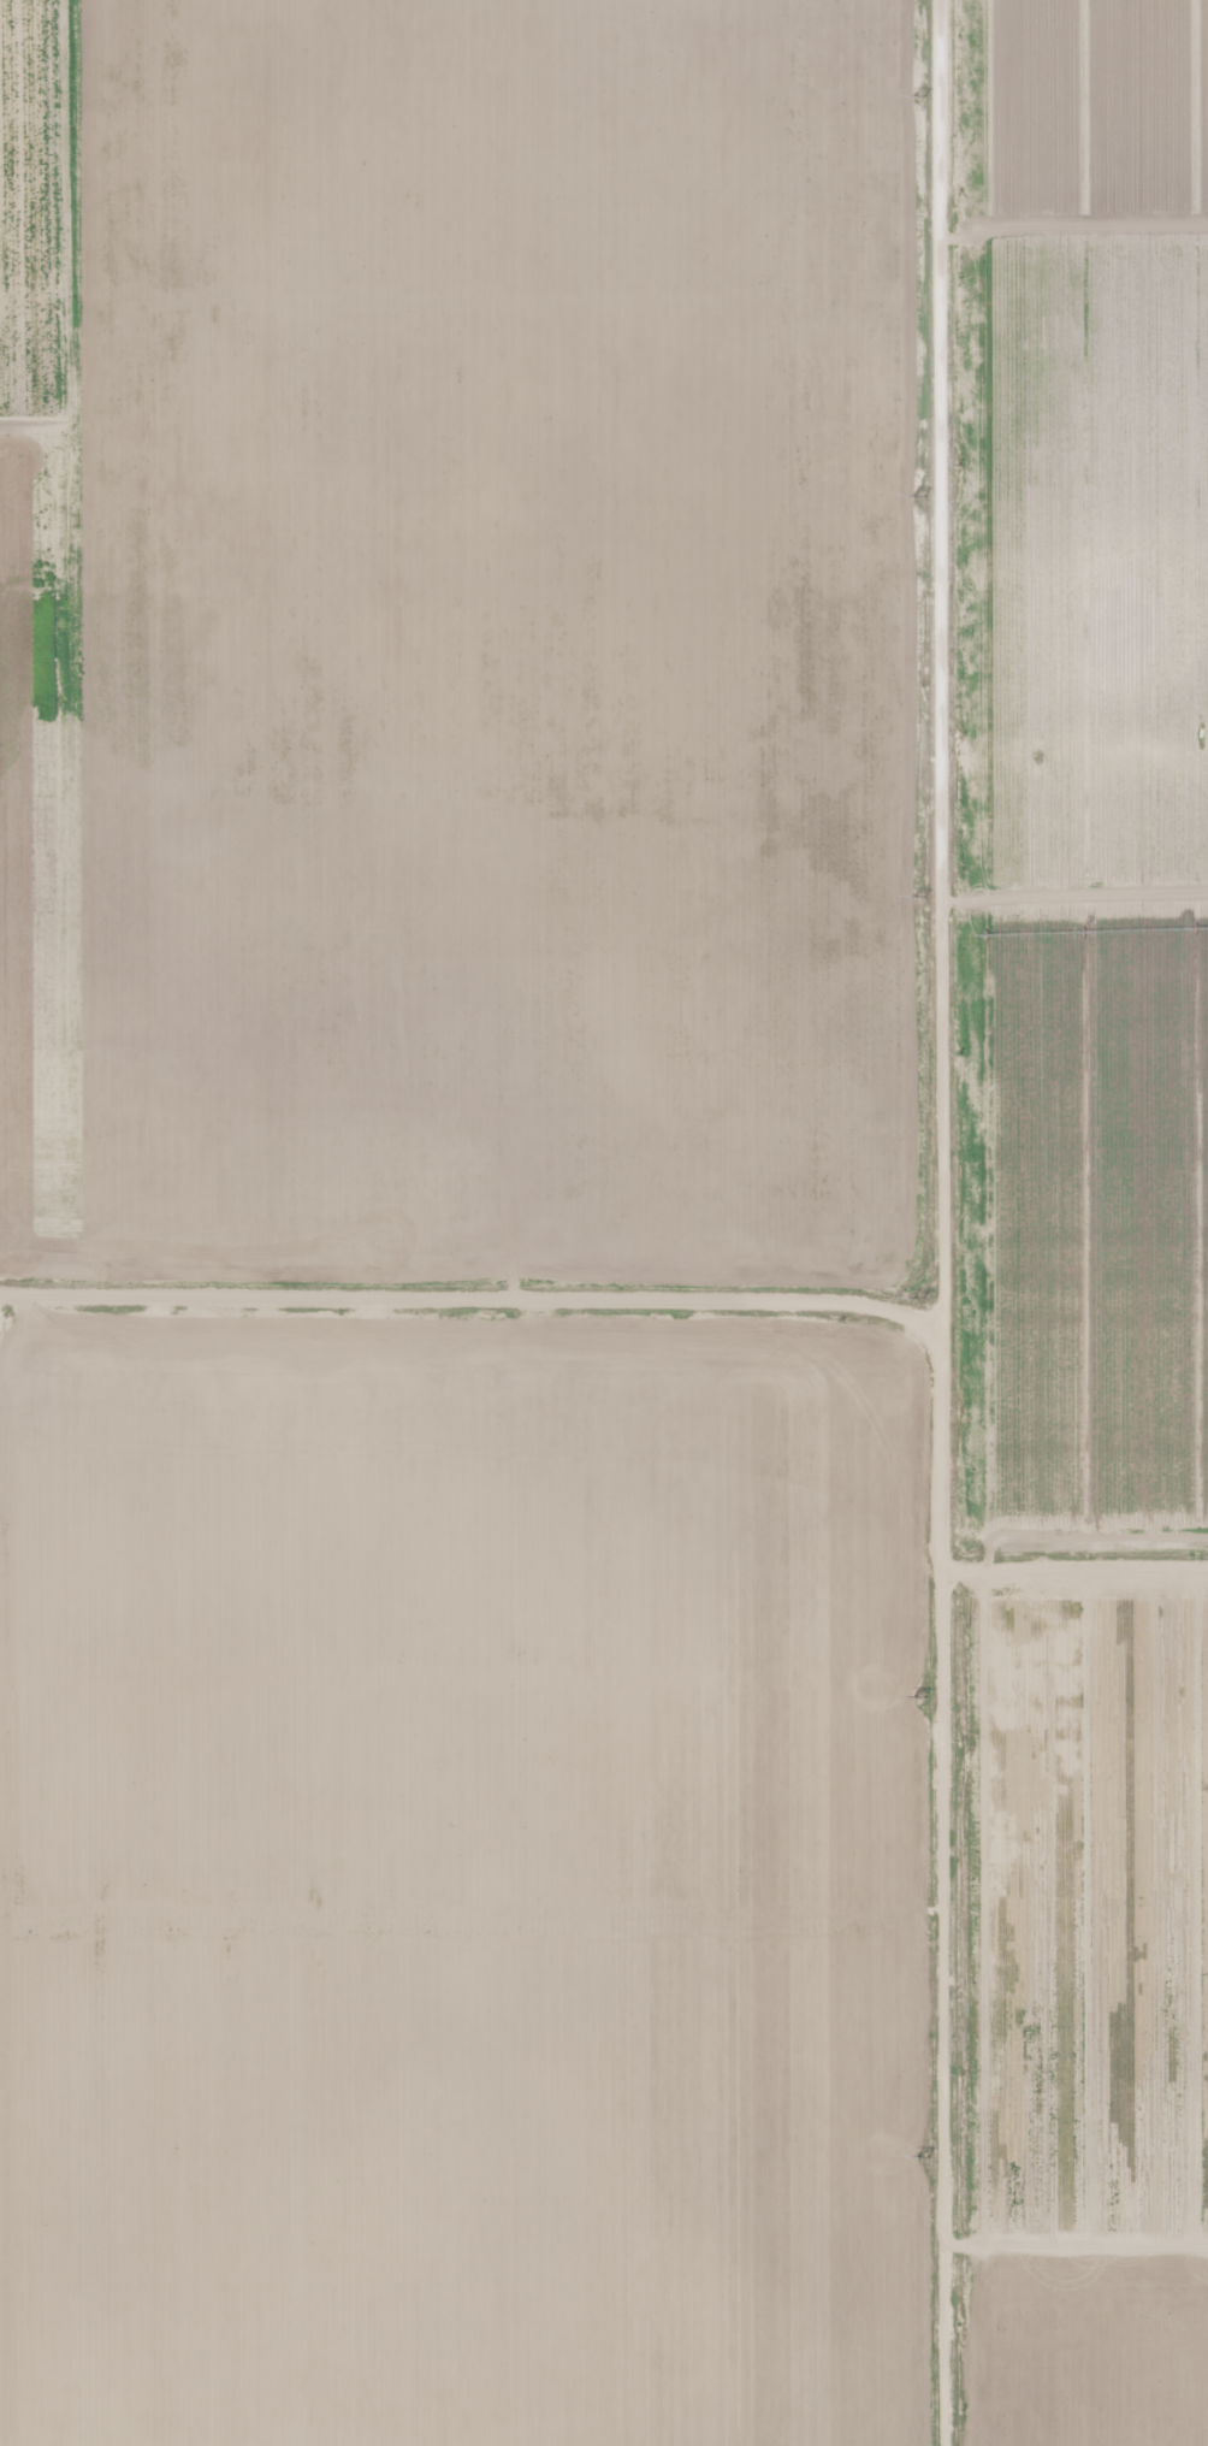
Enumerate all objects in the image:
power tower: (919, 96)
power tower: (922, 496)
power tower: (922, 894)
road: (953, 1223)
power tower: (926, 1296)
power tower: (923, 1695)
power tower: (924, 2155)

